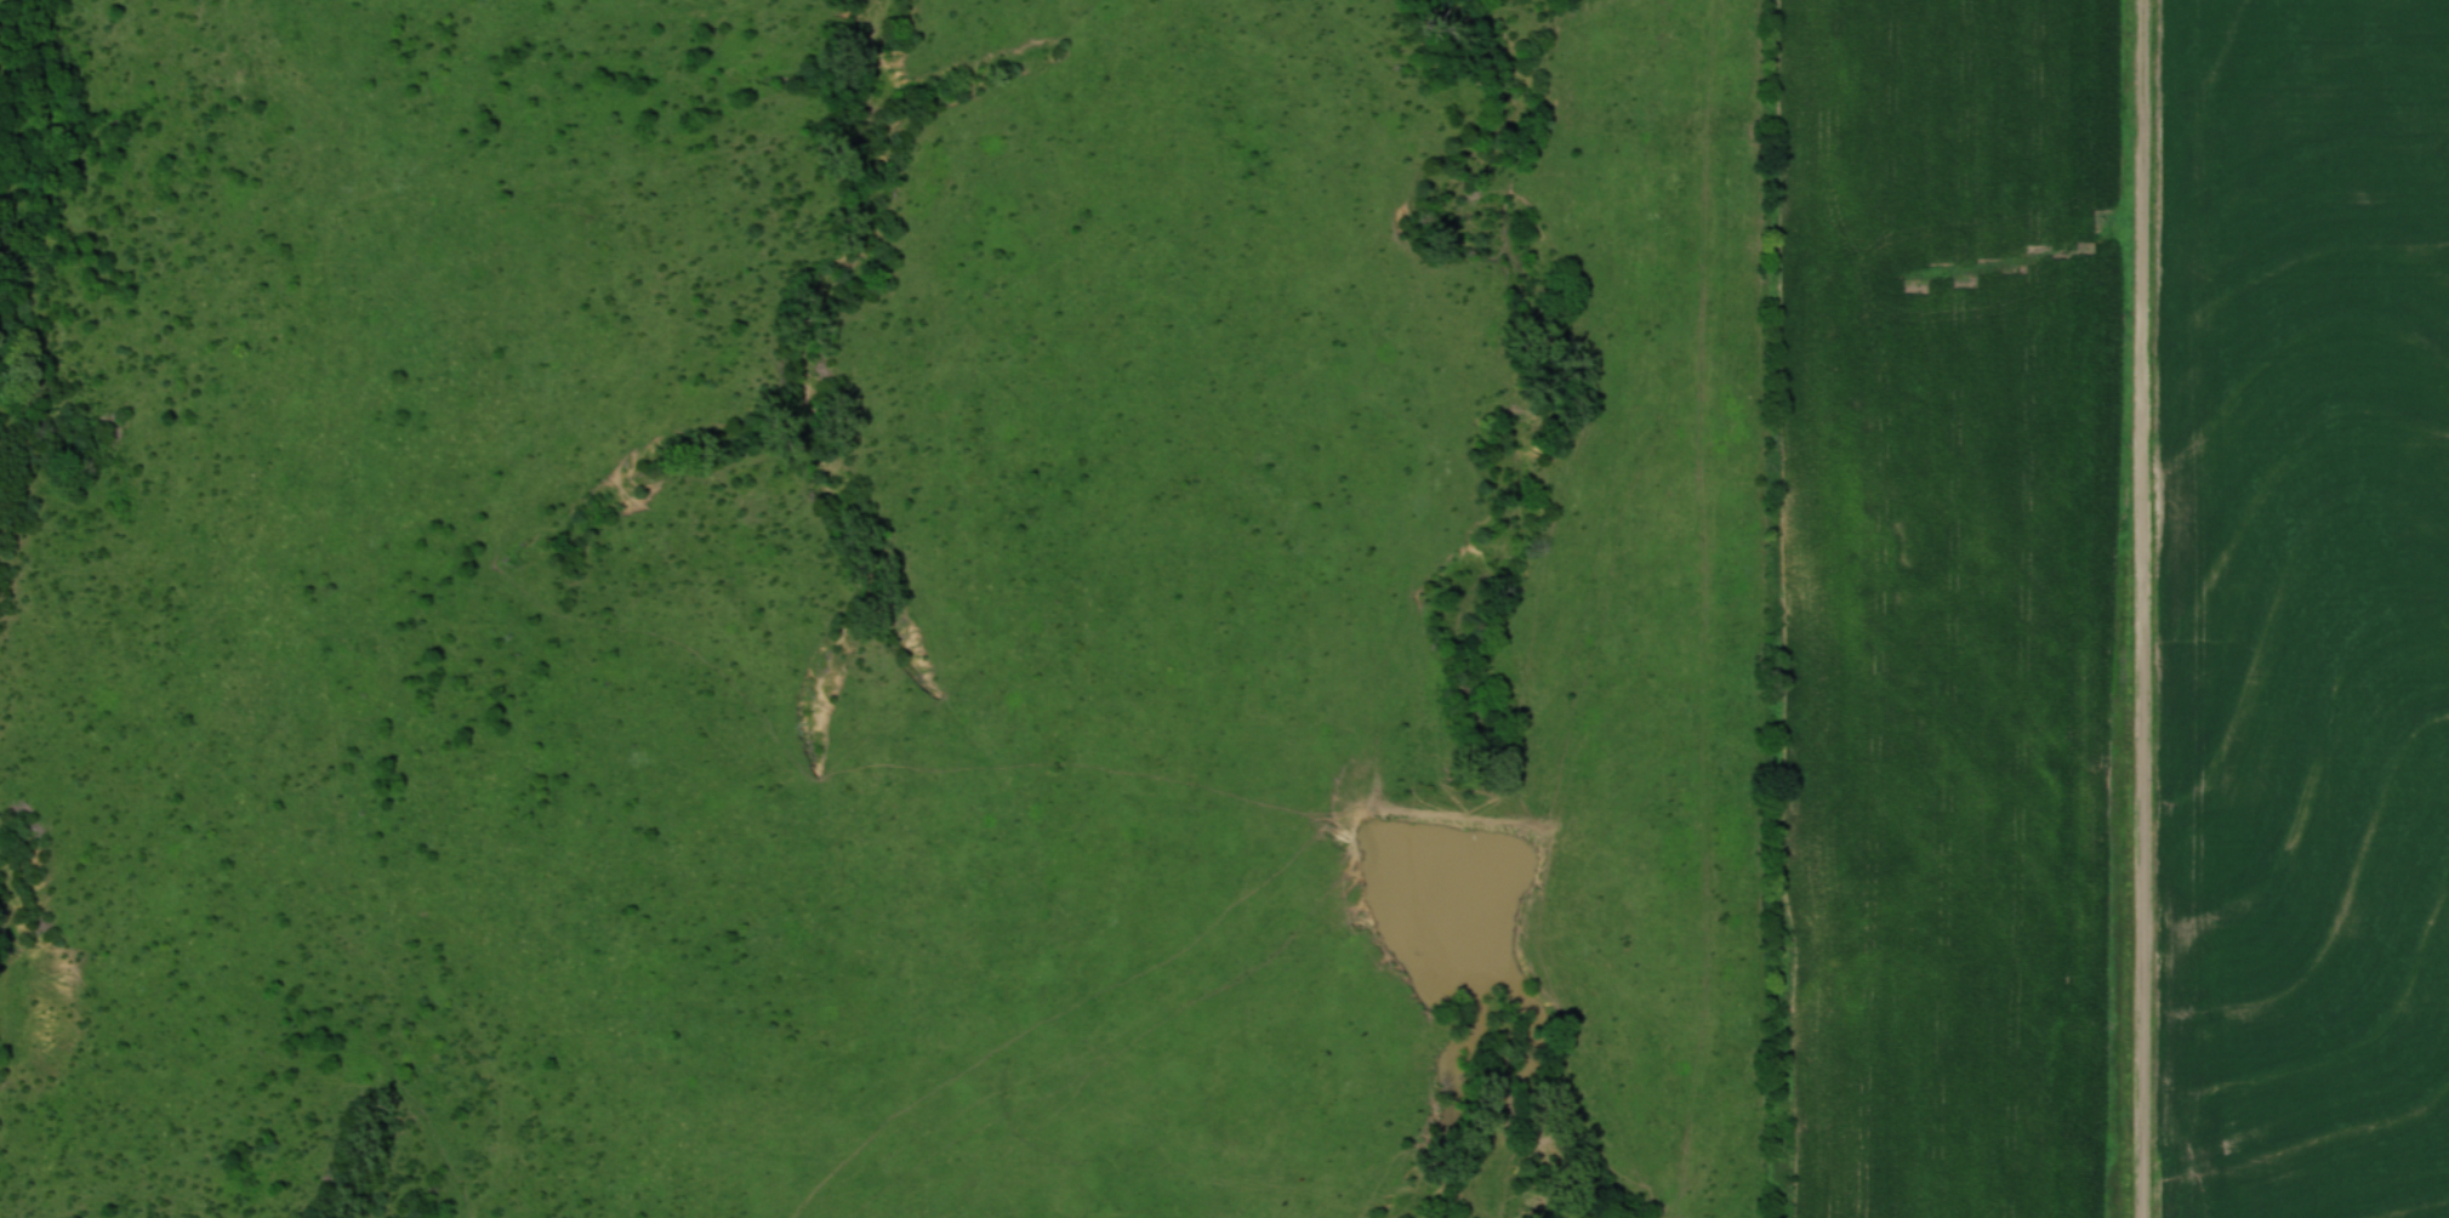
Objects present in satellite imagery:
road: (2142, 608)

